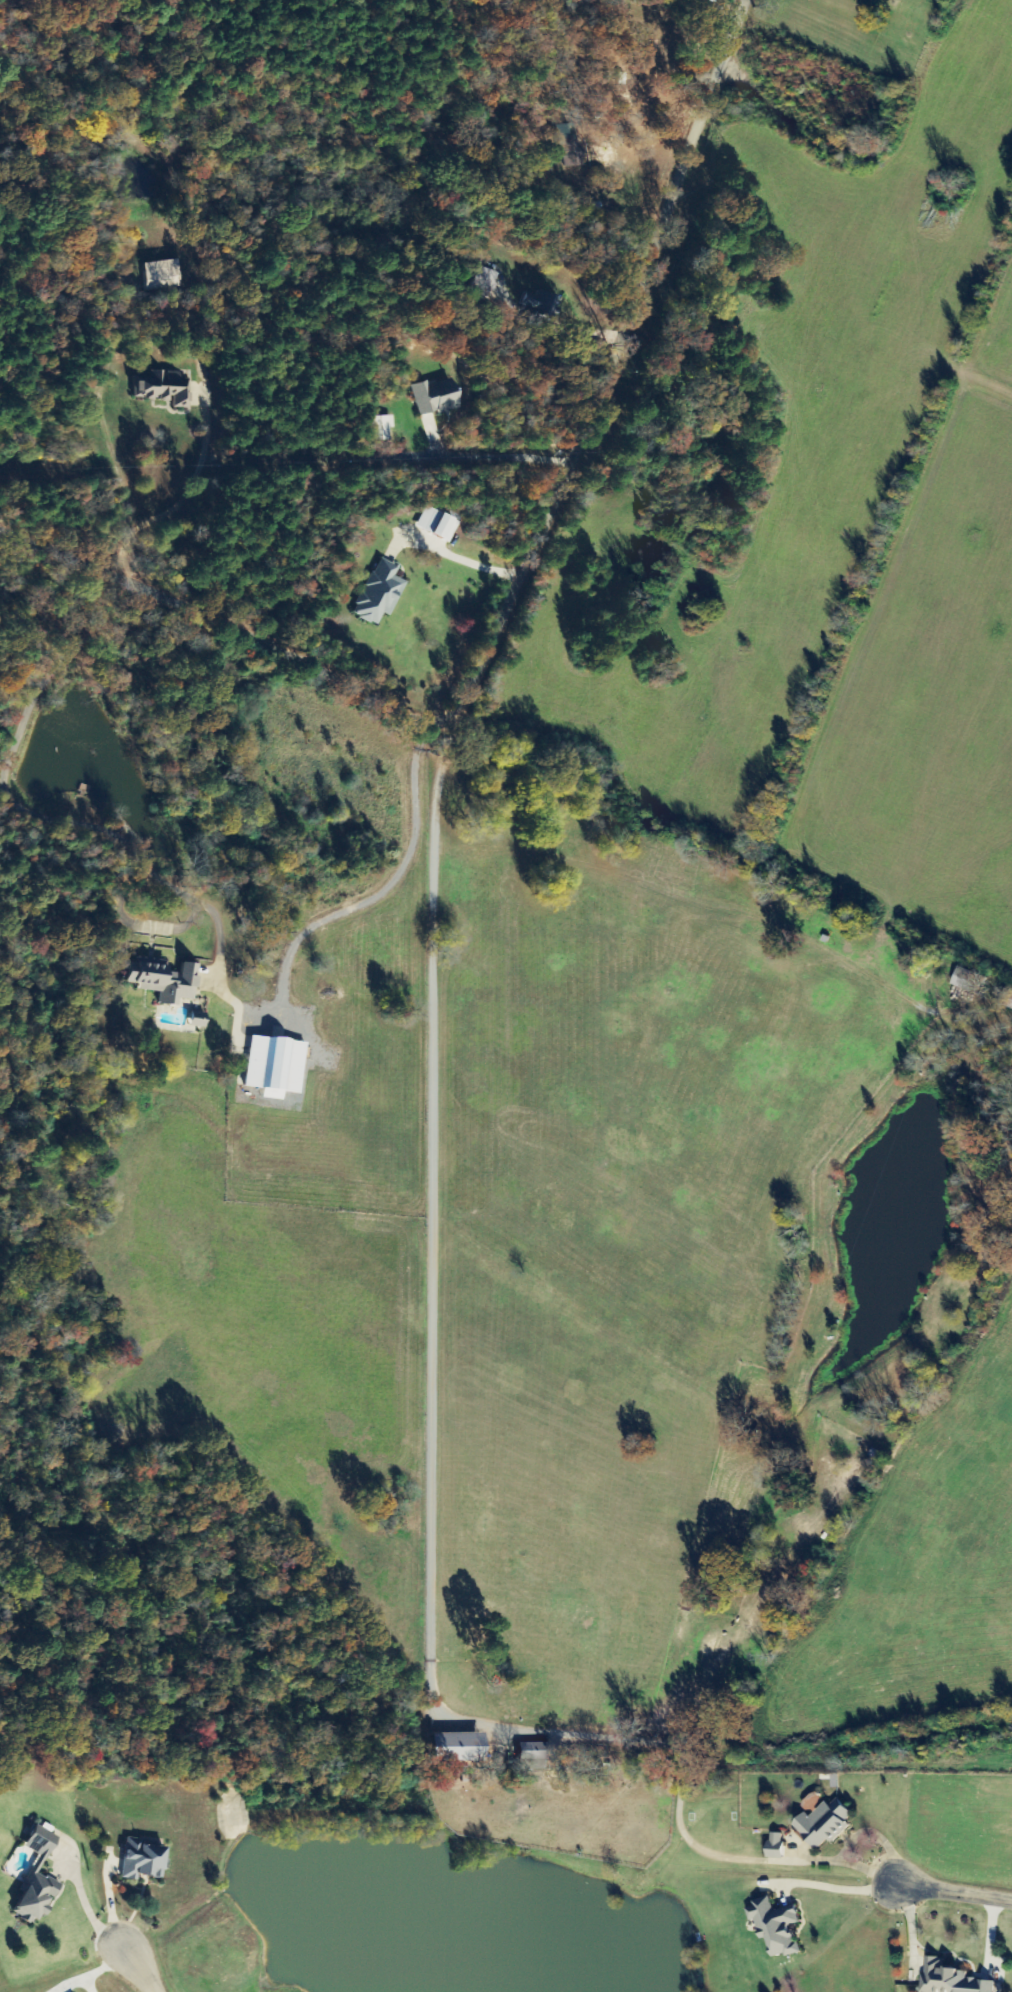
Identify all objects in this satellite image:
building: (577, 151)
building: (167, 274)
building: (487, 284)
building: (540, 302)
building: (164, 388)
building: (436, 396)
building: (380, 427)
building: (437, 523)
building: (380, 592)
road: (519, 594)
building: (166, 981)
building: (973, 982)
building: (1008, 1000)
building: (276, 1066)
building: (459, 1746)
building: (536, 1755)
building: (828, 1822)
building: (779, 1845)
building: (144, 1859)
building: (38, 1878)
road: (952, 1890)
building: (779, 1926)
road: (139, 1968)
building: (953, 1979)

